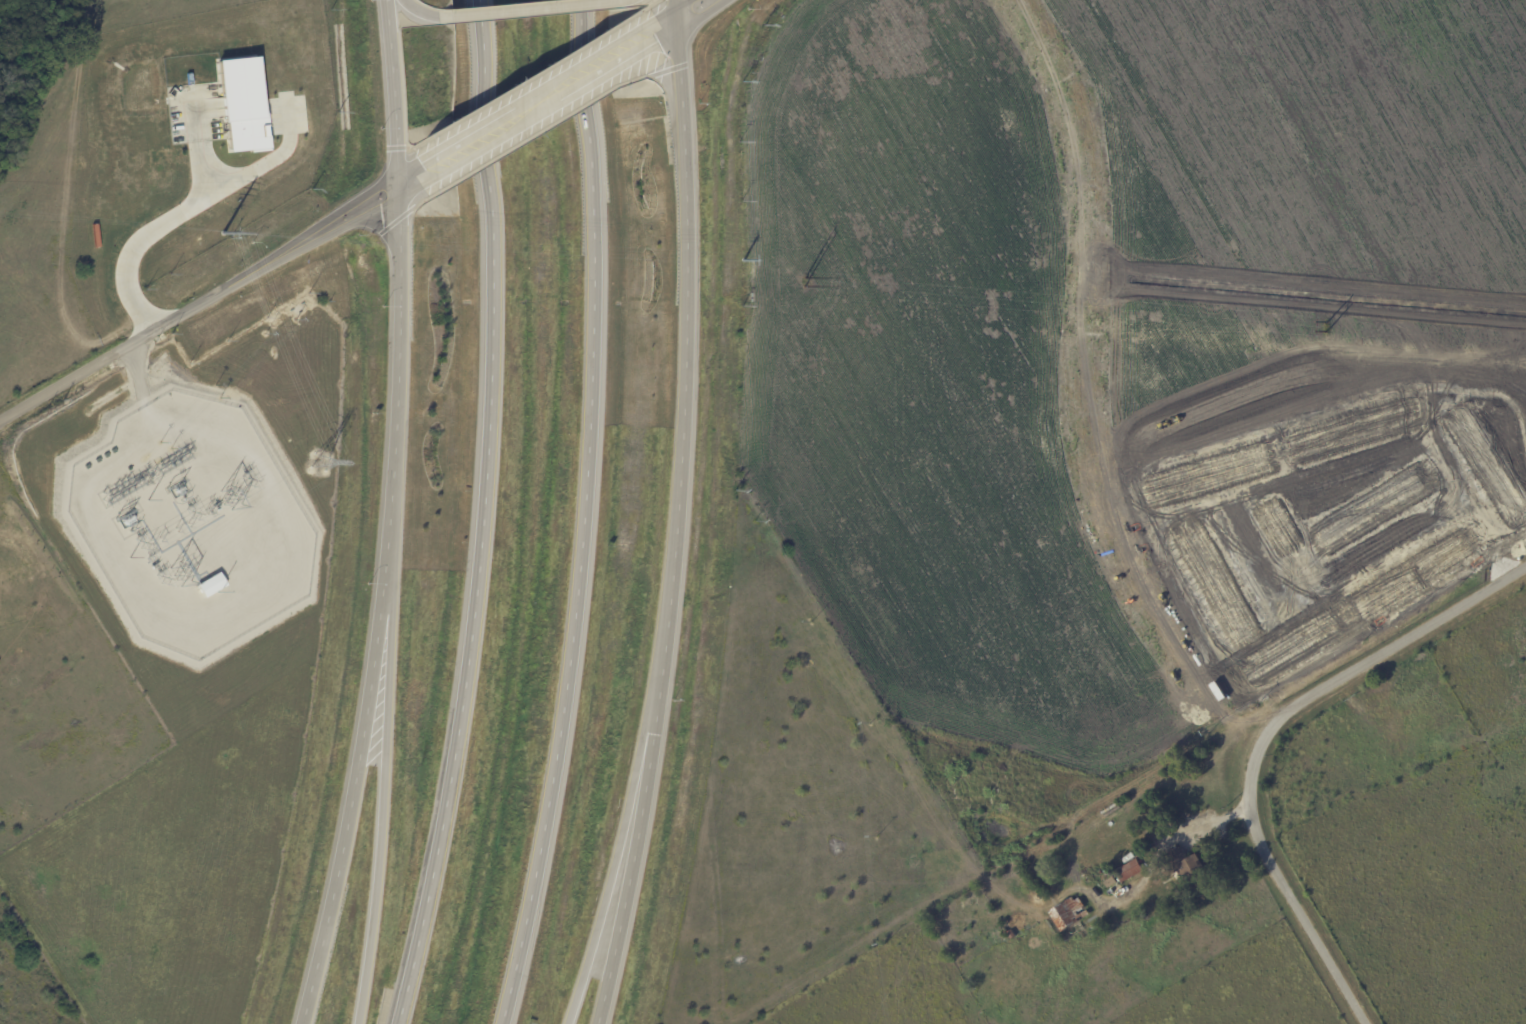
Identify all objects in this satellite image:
road: (508, 9)
road: (690, 12)
road: (656, 33)
road: (391, 93)
building: (244, 103)
road: (538, 103)
road: (255, 167)
road: (417, 176)
road: (153, 228)
power tower: (183, 232)
power tower: (806, 284)
road: (199, 306)
power tower: (1330, 329)
road: (478, 515)
road: (582, 515)
road: (677, 515)
road: (376, 609)
road: (1262, 740)
road: (379, 774)
building: (1132, 869)
building: (1194, 870)
road: (608, 887)
building: (1072, 913)

